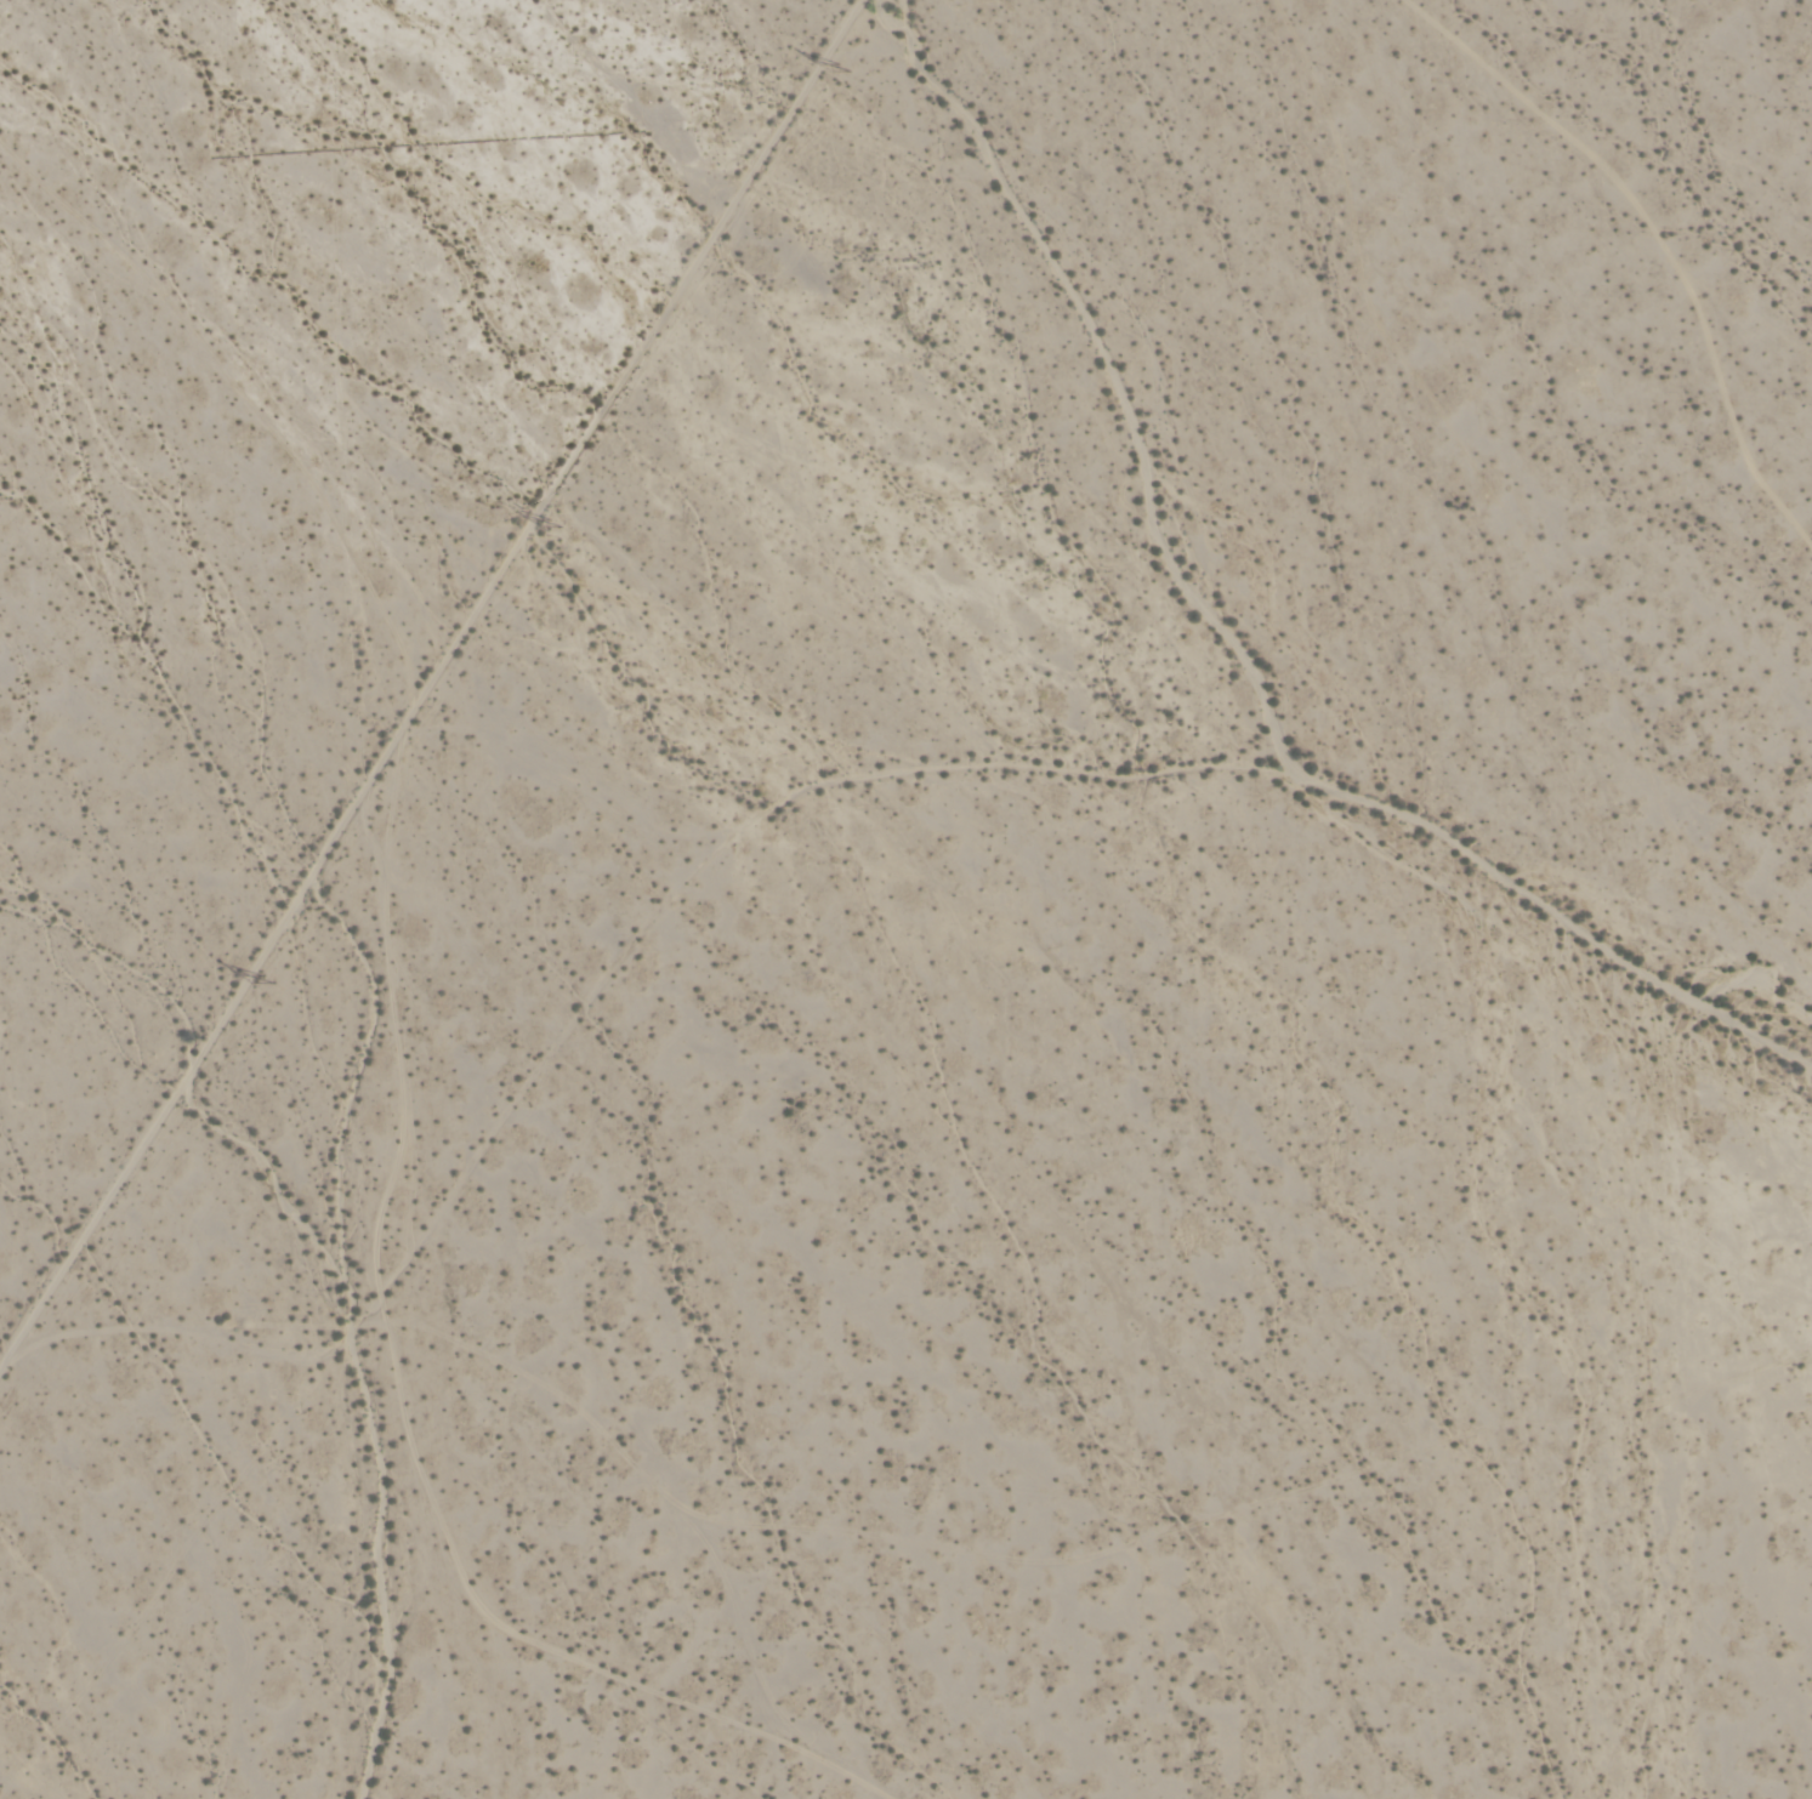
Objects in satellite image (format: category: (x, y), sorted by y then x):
power tower: (847, 72)
power tower: (555, 528)
road: (428, 674)
power tower: (267, 979)

